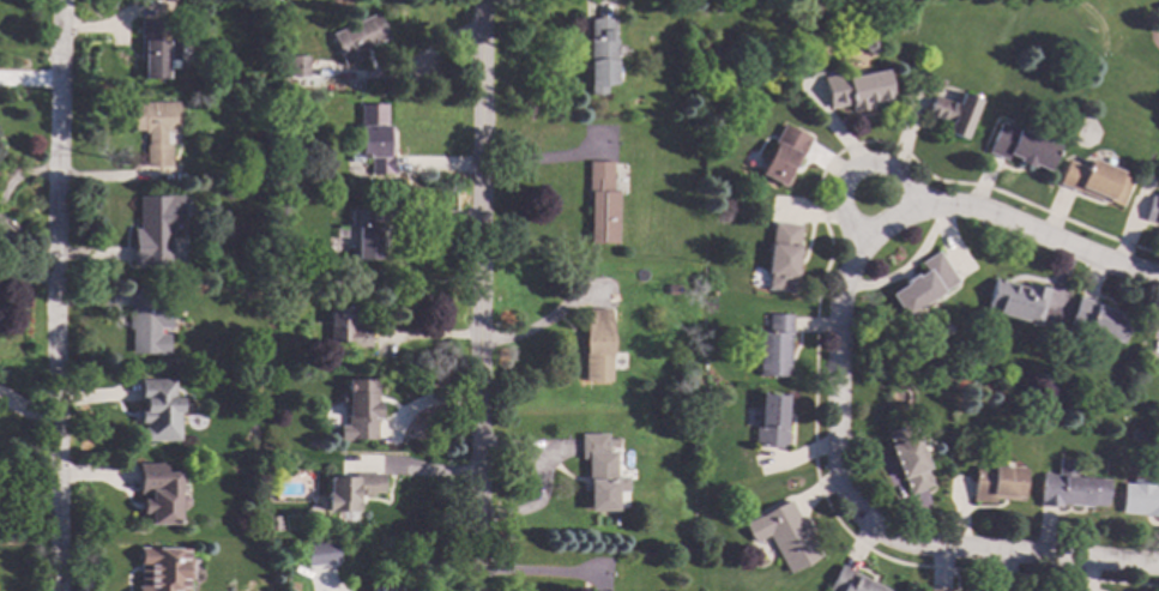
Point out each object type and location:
building: (264, 0)
building: (354, 37)
building: (868, 44)
building: (155, 47)
building: (600, 54)
building: (294, 65)
building: (855, 89)
building: (362, 92)
building: (268, 102)
building: (950, 113)
building: (155, 128)
building: (372, 138)
building: (1019, 146)
building: (781, 155)
road: (544, 159)
road: (849, 174)
building: (1093, 180)
building: (289, 195)
building: (600, 203)
building: (1151, 210)
building: (153, 229)
building: (363, 234)
building: (780, 255)
building: (268, 281)
building: (922, 284)
building: (670, 289)
road: (59, 295)
road: (477, 295)
building: (1014, 300)
building: (1098, 319)
building: (146, 320)
building: (344, 325)
road: (538, 326)
building: (772, 345)
building: (596, 346)
road: (839, 378)
building: (158, 409)
building: (357, 409)
building: (767, 421)
building: (907, 458)
building: (599, 471)
building: (996, 482)
building: (1068, 487)
building: (349, 490)
building: (158, 494)
building: (1140, 497)
building: (271, 523)
building: (783, 535)
building: (320, 553)
building: (646, 553)
building: (163, 568)
road: (538, 574)
building: (850, 581)
building: (392, 587)
building: (938, 590)

